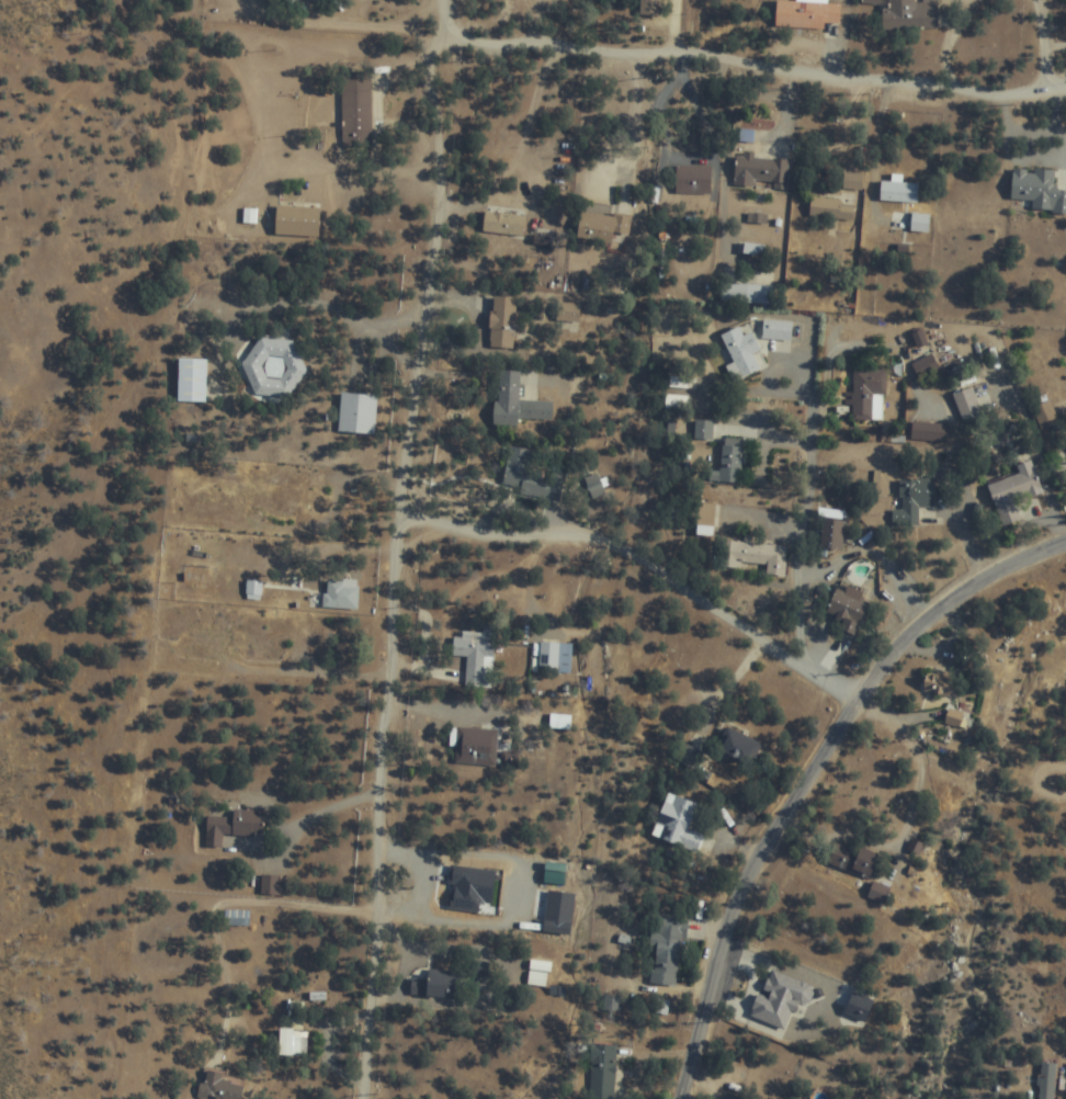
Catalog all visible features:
building: (871, 1)
building: (650, 7)
building: (806, 14)
building: (910, 14)
road: (1045, 42)
road: (761, 64)
building: (355, 109)
building: (760, 172)
building: (692, 180)
building: (852, 181)
building: (1037, 190)
building: (898, 191)
building: (830, 211)
building: (296, 220)
building: (919, 223)
building: (503, 224)
building: (601, 227)
building: (564, 316)
building: (502, 322)
building: (776, 330)
building: (741, 353)
building: (925, 366)
building: (273, 367)
building: (192, 379)
building: (867, 394)
building: (515, 403)
building: (967, 406)
building: (356, 413)
building: (703, 430)
building: (929, 431)
building: (732, 461)
building: (532, 475)
building: (1012, 492)
building: (274, 497)
building: (912, 501)
building: (704, 520)
building: (211, 522)
building: (830, 535)
road: (397, 536)
road: (645, 559)
building: (758, 559)
building: (206, 589)
building: (254, 590)
building: (339, 593)
building: (847, 610)
building: (166, 626)
building: (264, 641)
building: (199, 652)
building: (476, 658)
building: (554, 658)
building: (939, 686)
building: (953, 718)
building: (475, 747)
building: (738, 747)
road: (814, 777)
road: (1063, 796)
building: (678, 824)
building: (233, 826)
building: (851, 861)
building: (269, 884)
building: (479, 893)
building: (877, 894)
building: (558, 914)
building: (667, 945)
building: (436, 985)
building: (780, 1000)
building: (293, 1043)
building: (602, 1072)
building: (1047, 1081)
building: (216, 1085)
building: (730, 1098)

